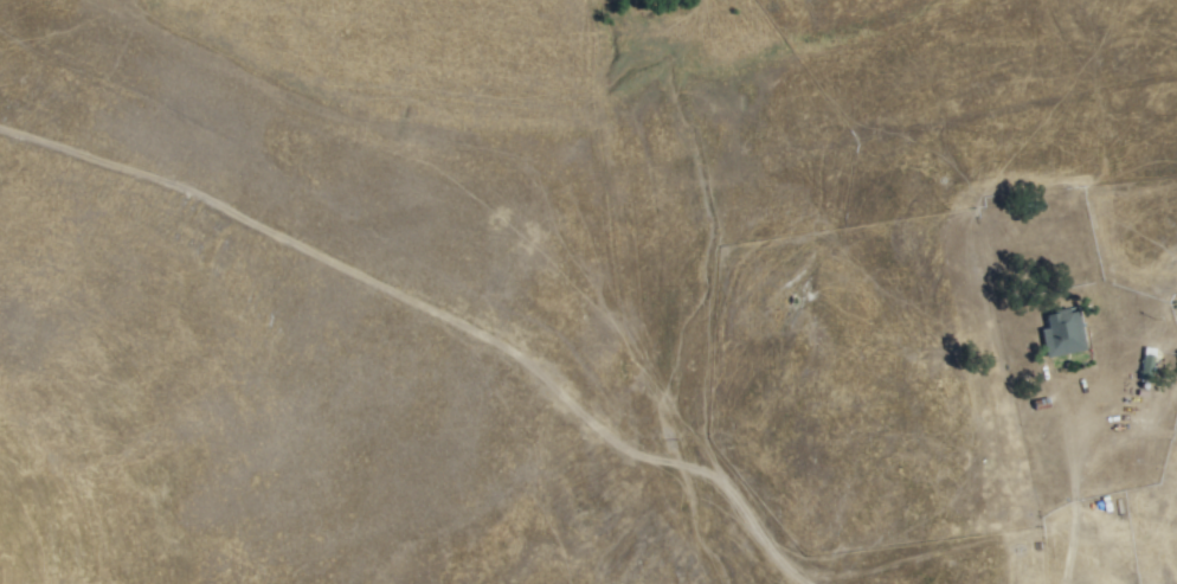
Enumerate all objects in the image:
road: (426, 321)
building: (1066, 330)
road: (1085, 449)
road: (927, 556)

